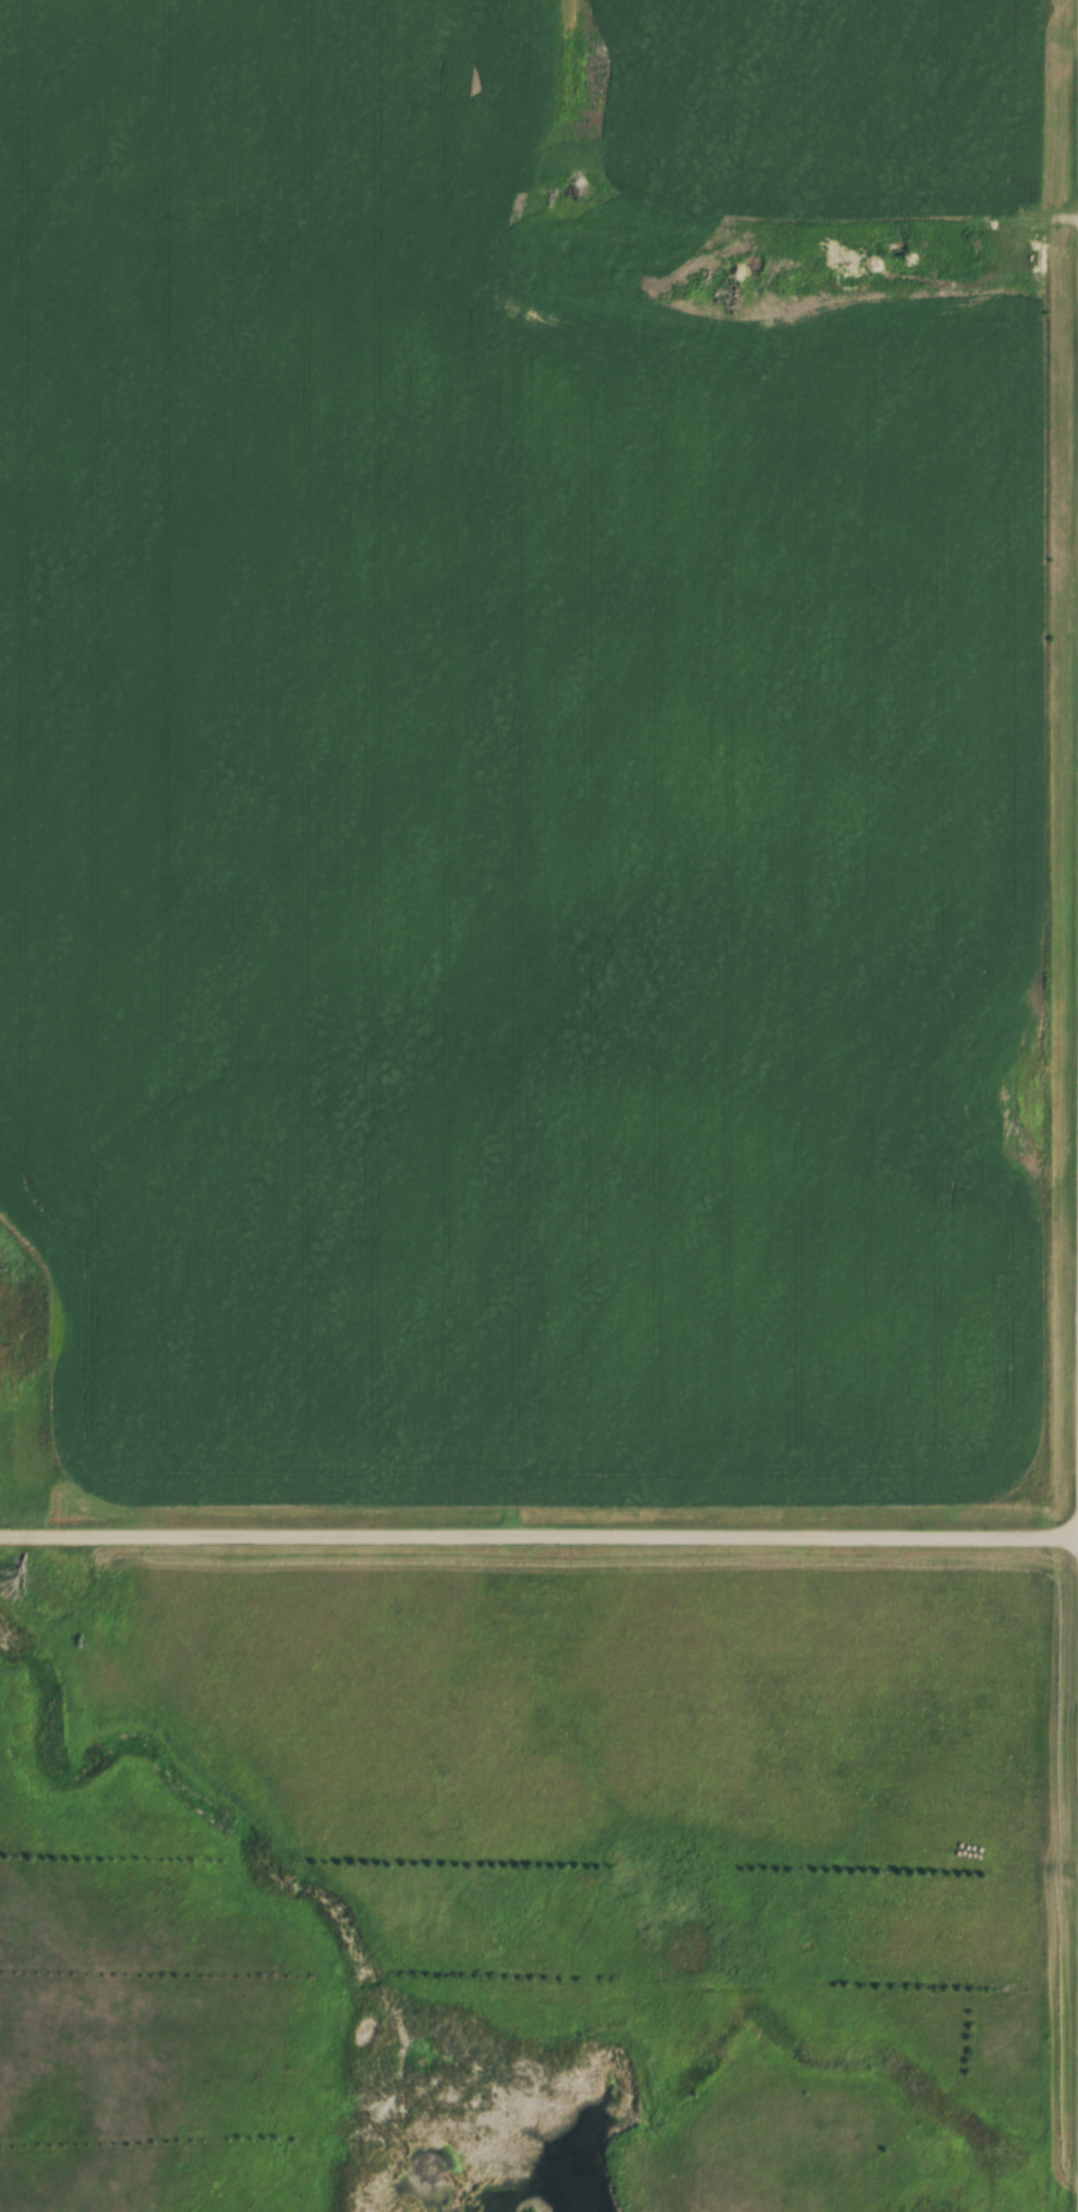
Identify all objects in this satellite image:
road: (538, 1528)
airport runway: (617, 1695)
river: (511, 2122)

